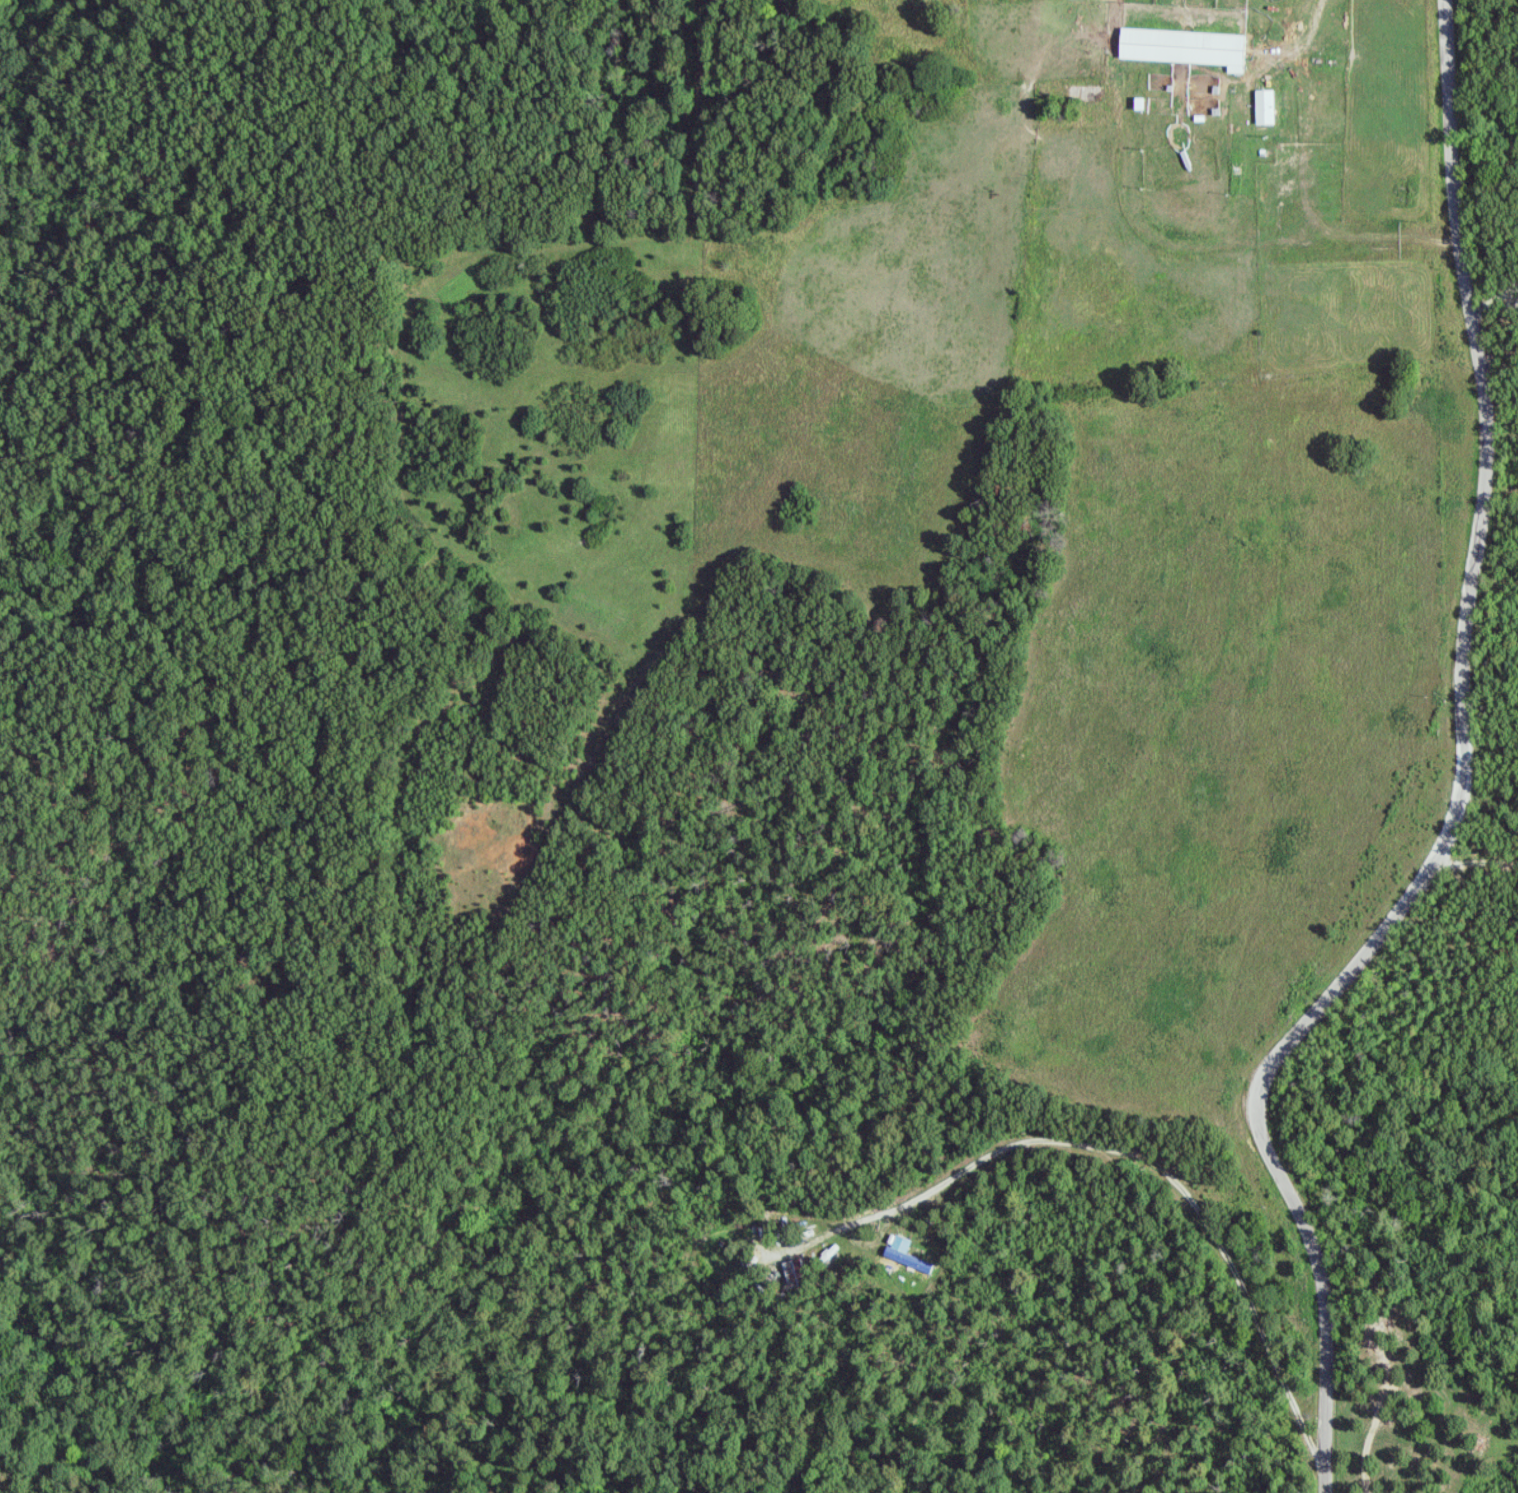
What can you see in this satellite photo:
building: (1185, 48)
building: (1266, 108)
road: (1308, 183)
road: (1498, 572)
road: (1468, 786)
road: (1141, 1157)
building: (906, 1254)
building: (794, 1272)

